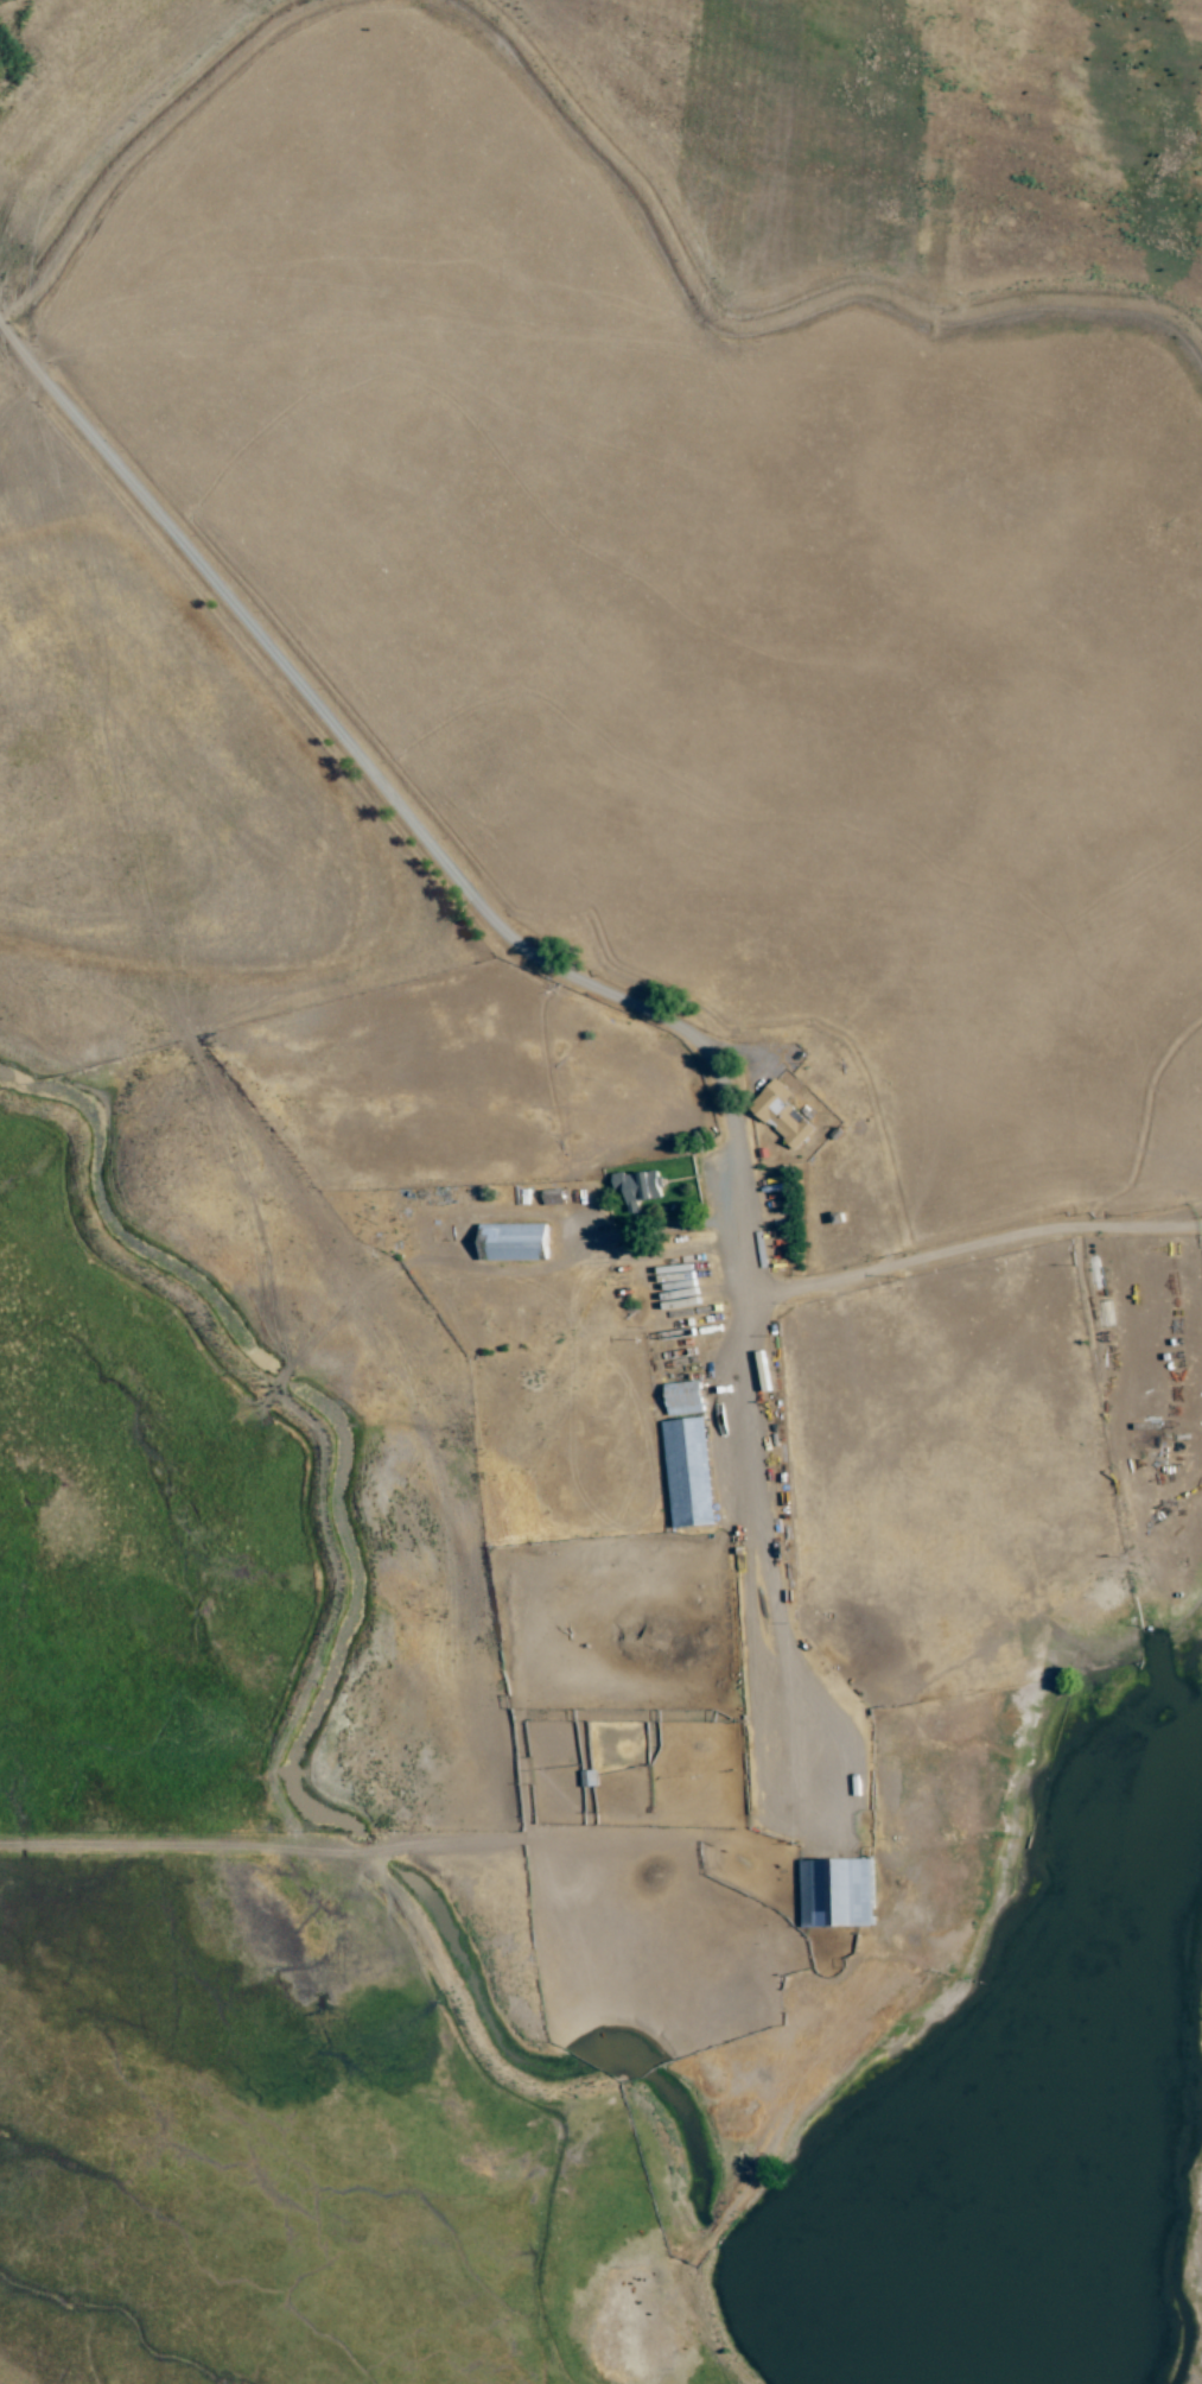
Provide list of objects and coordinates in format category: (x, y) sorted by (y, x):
road: (574, 975)
building: (781, 1115)
building: (637, 1188)
building: (511, 1242)
road: (978, 1251)
building: (687, 1473)
building: (835, 1892)

